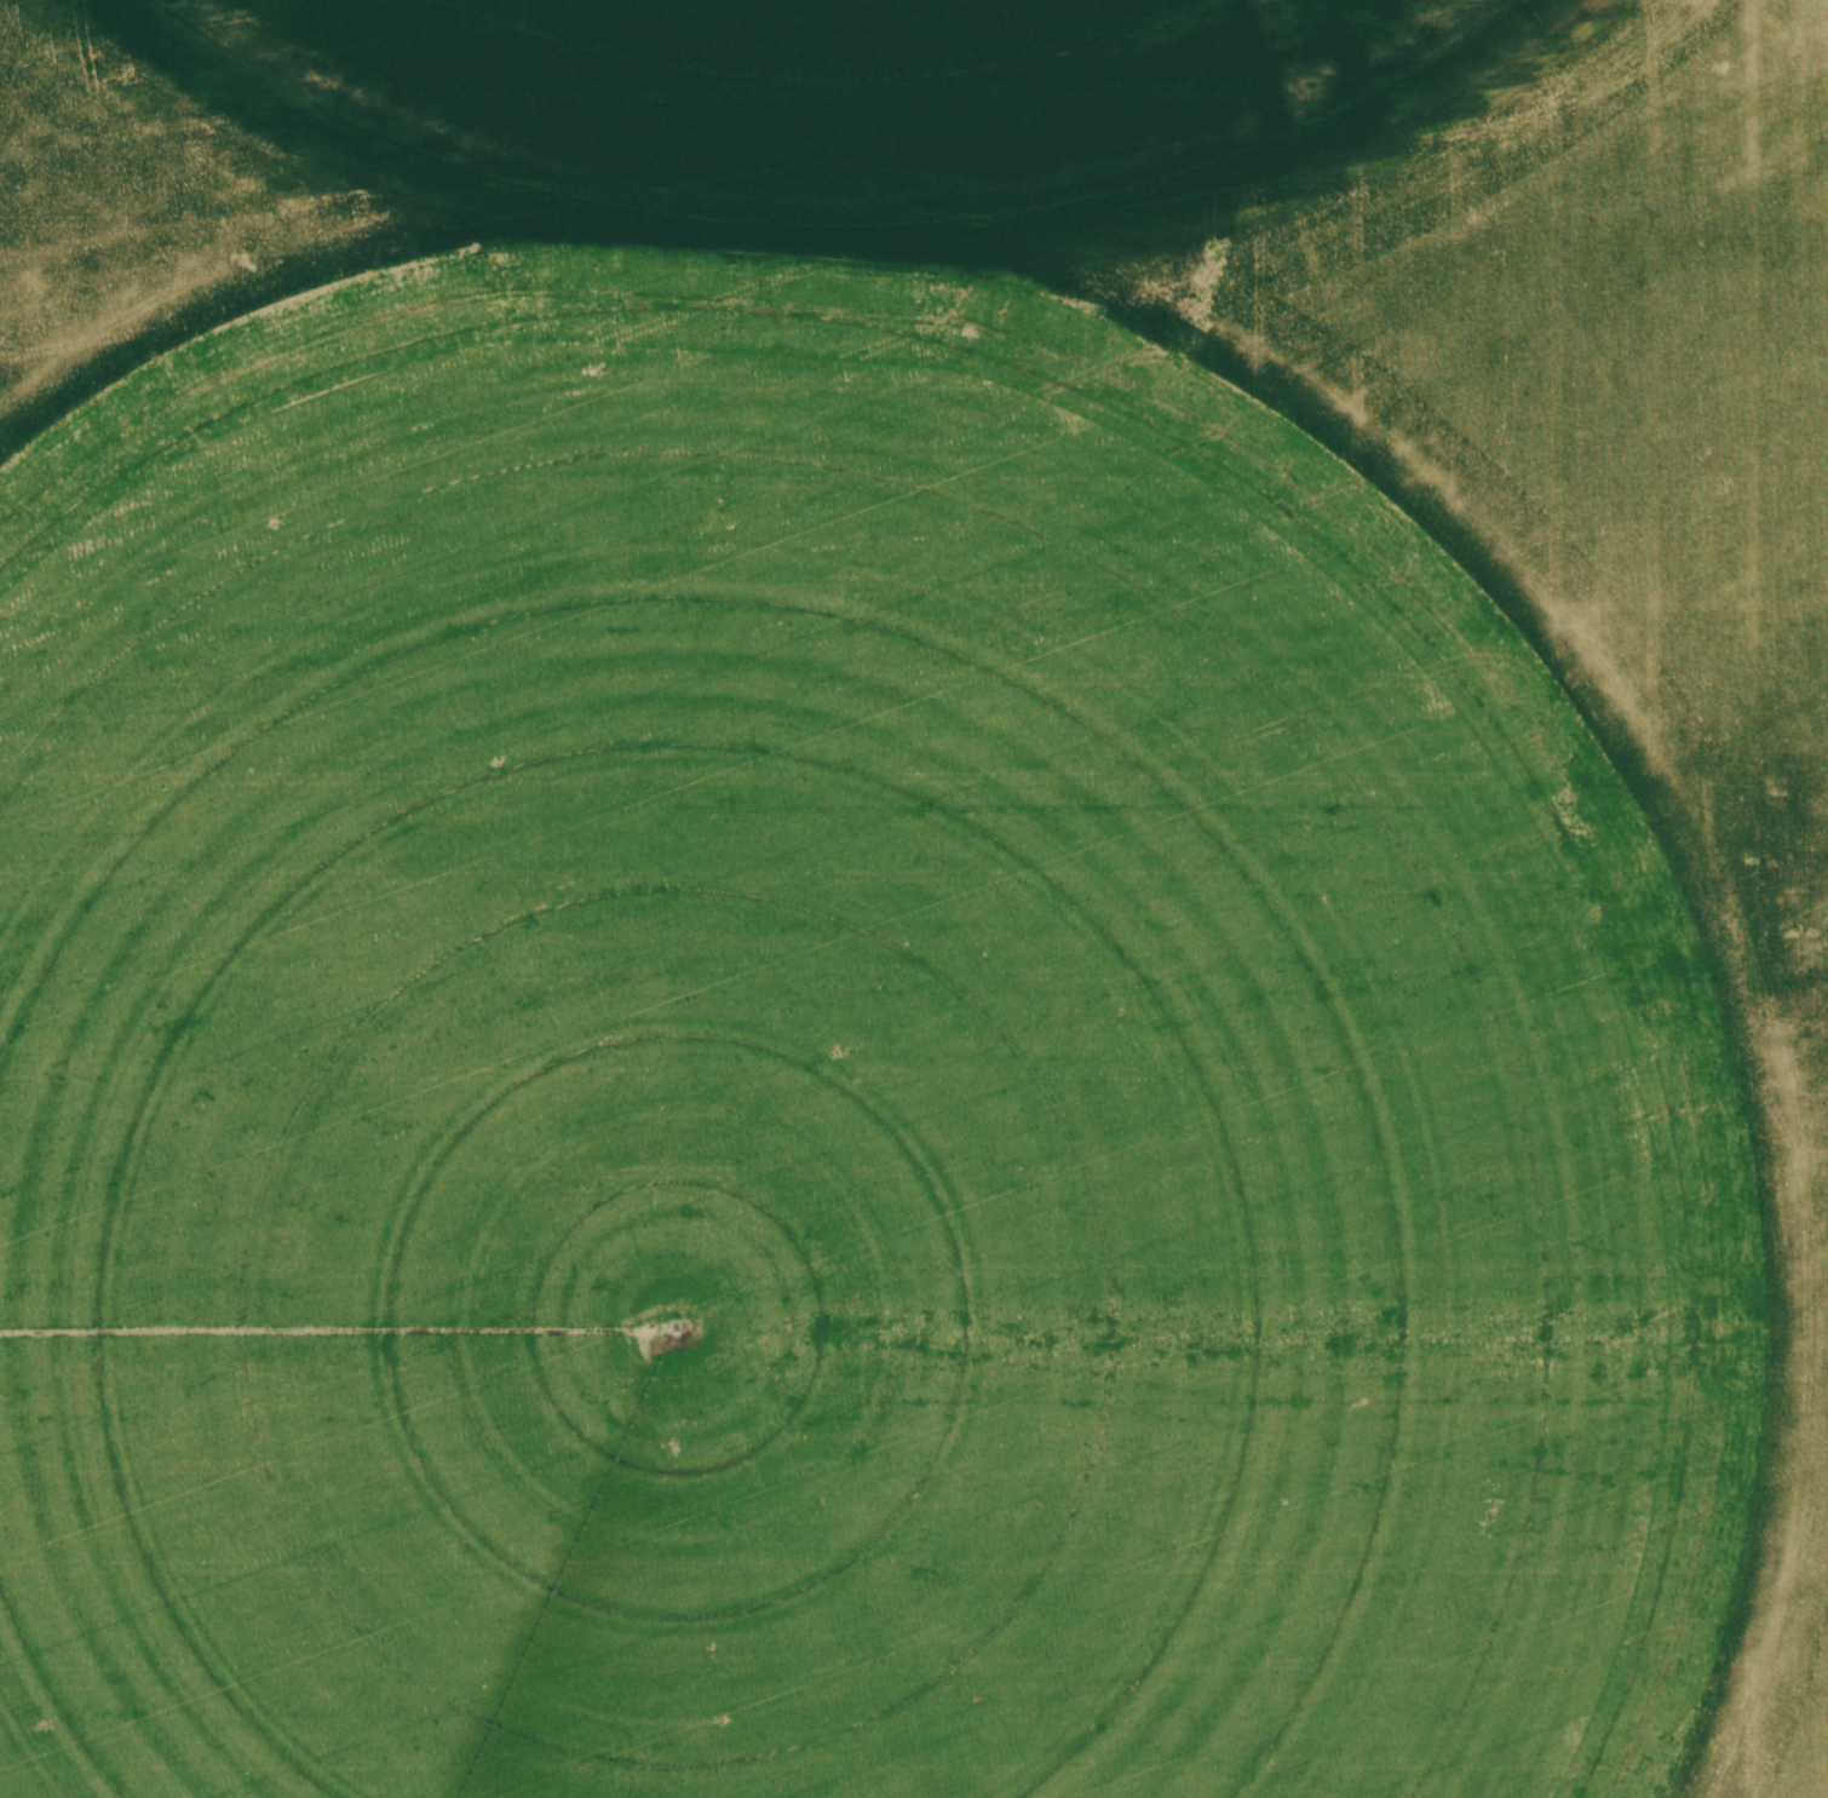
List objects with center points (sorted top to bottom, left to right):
crop: (906, 898)
building: (1797, 909)

